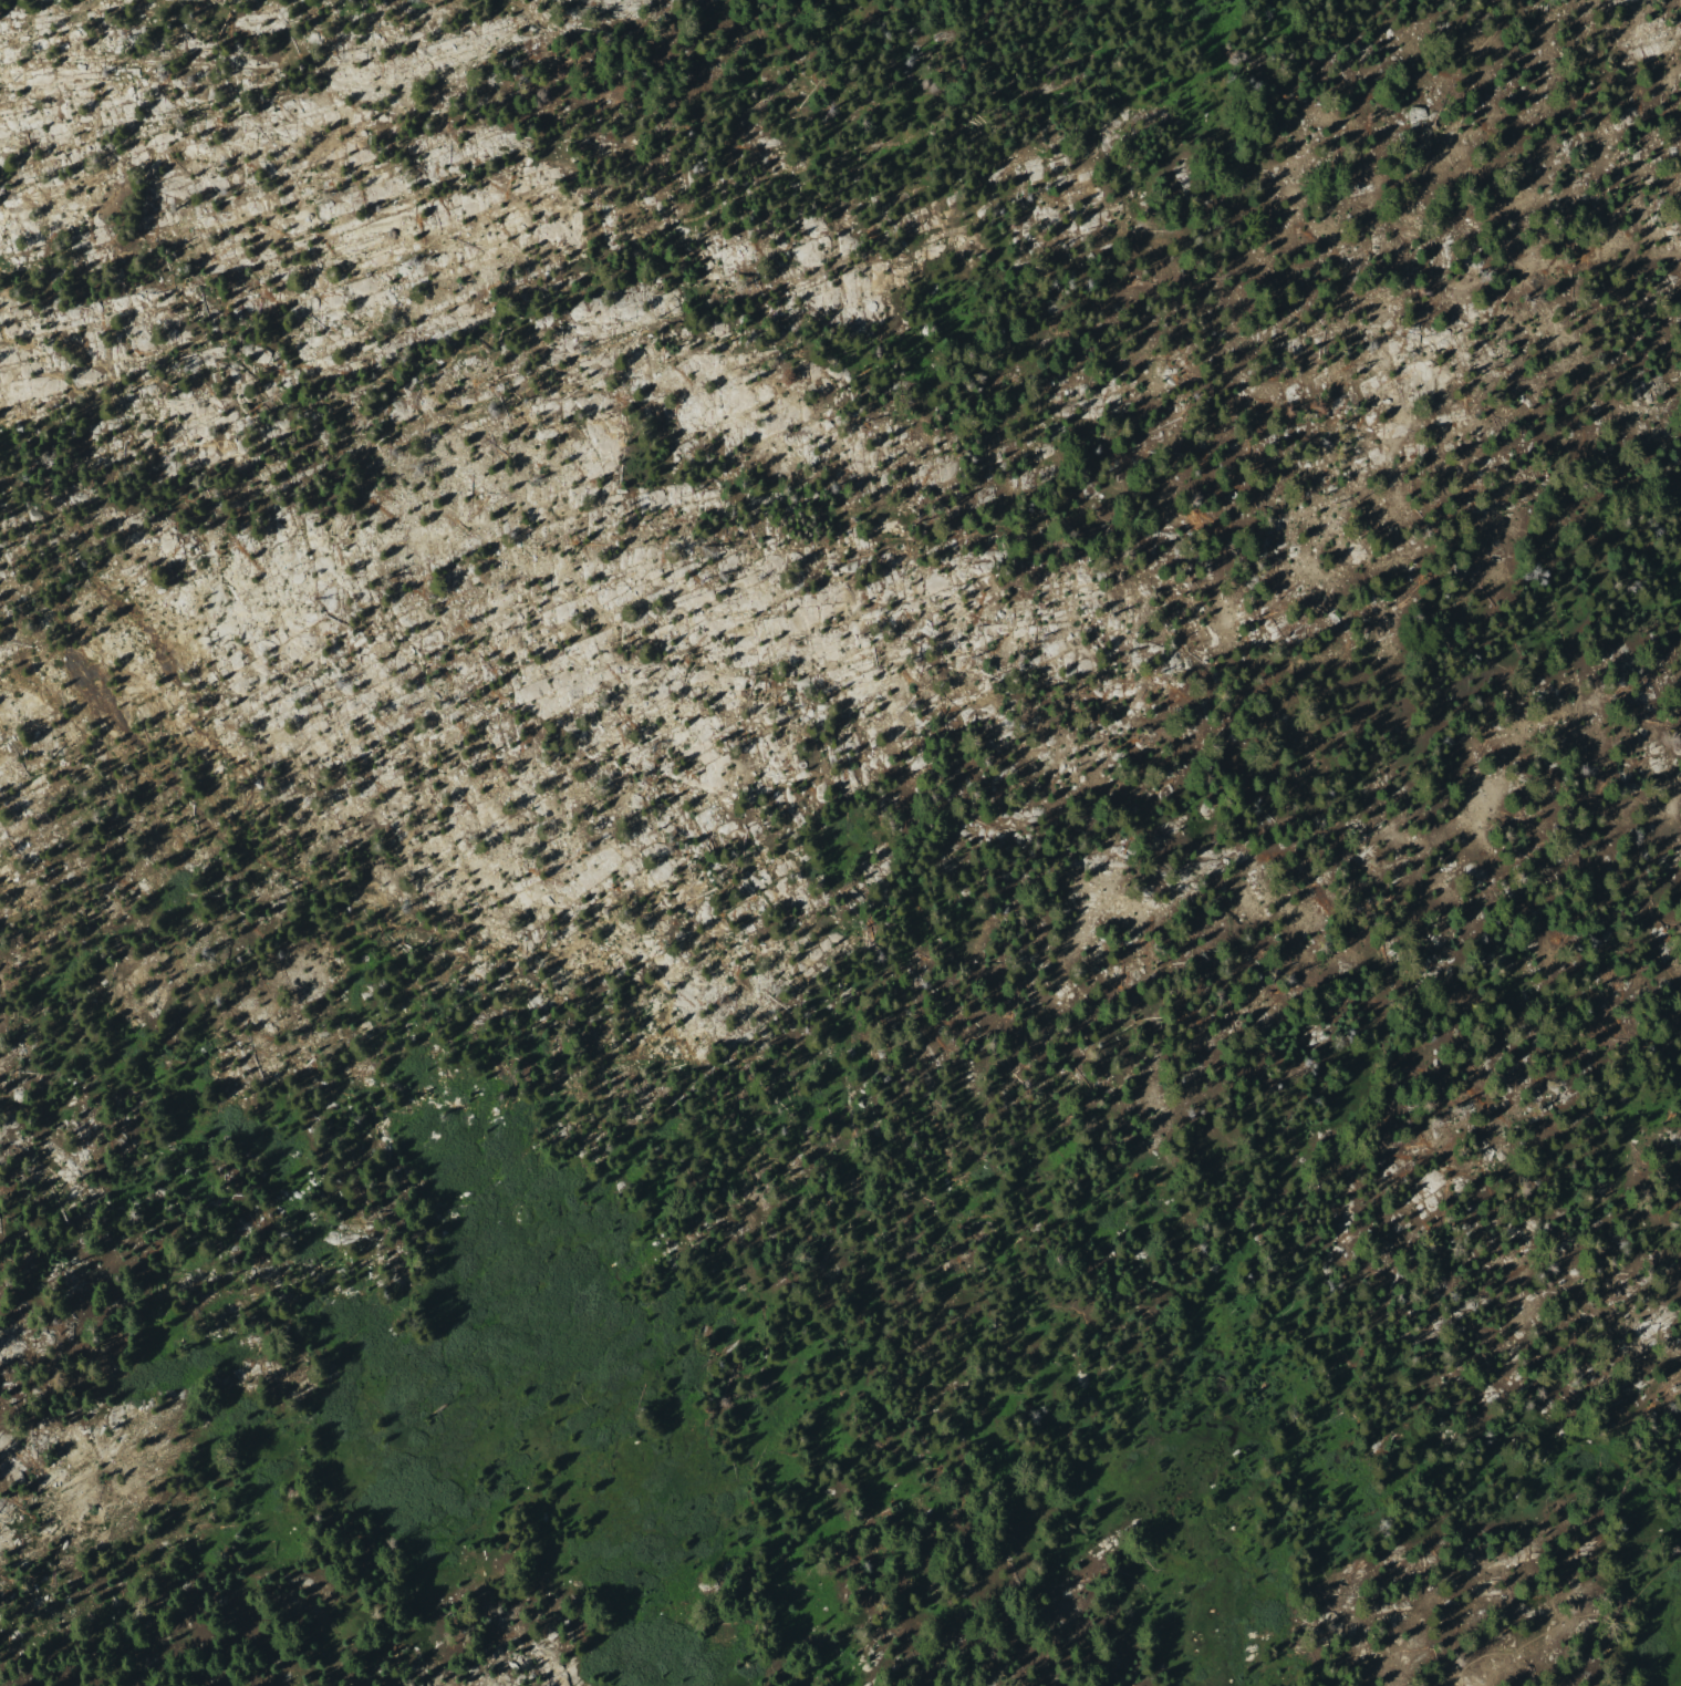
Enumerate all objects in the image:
road: (1560, 507)
road: (1568, 1615)

